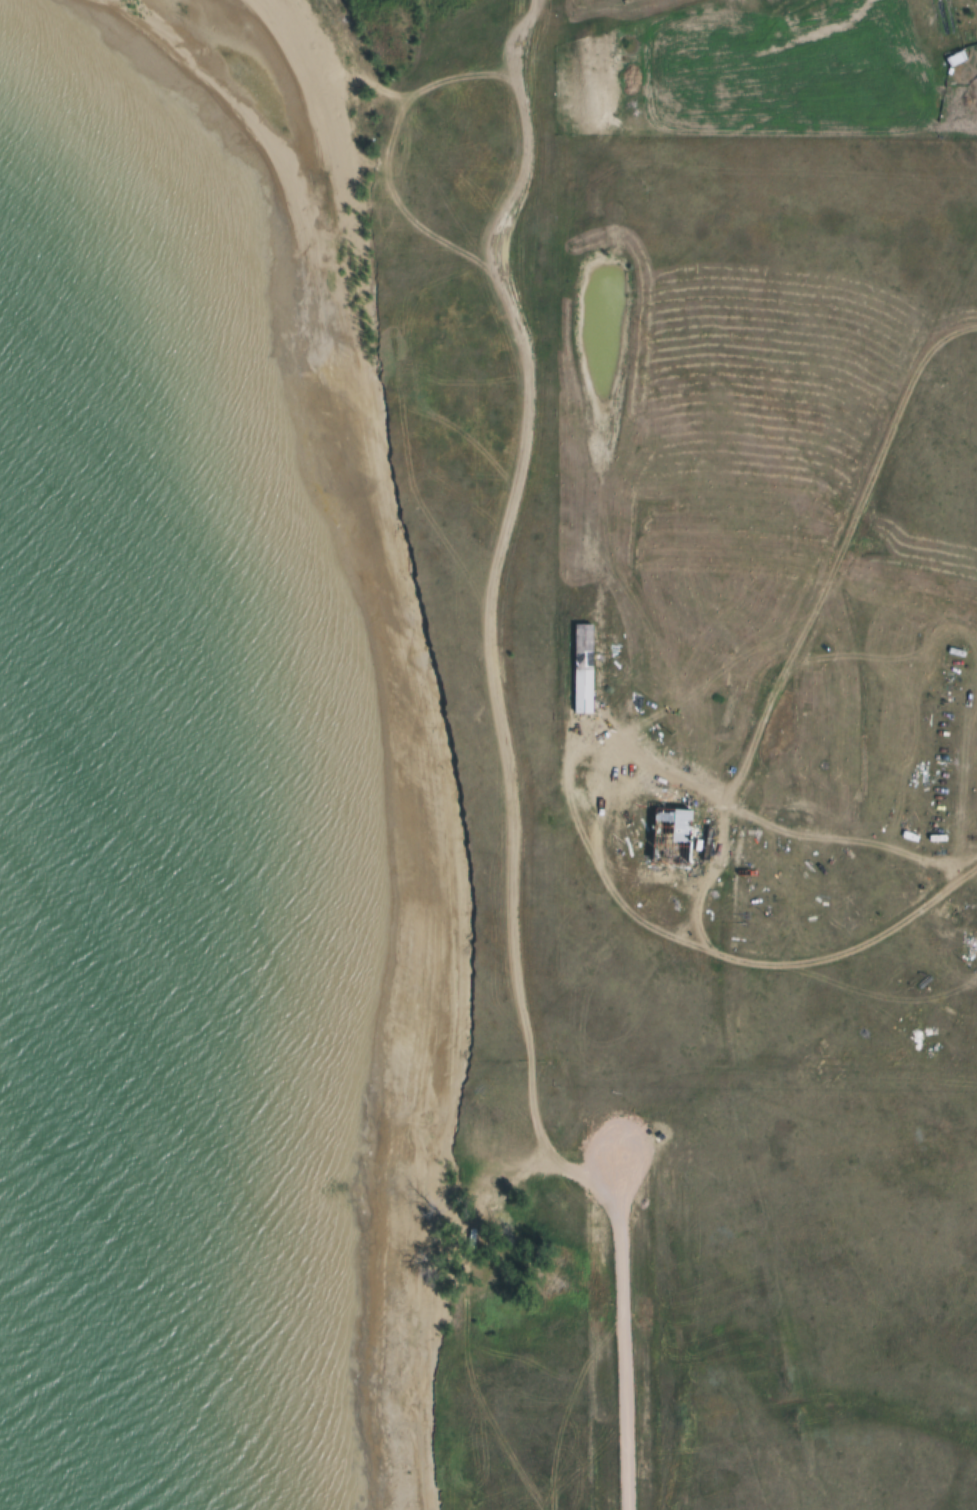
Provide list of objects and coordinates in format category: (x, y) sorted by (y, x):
building: (581, 679)
building: (678, 825)

